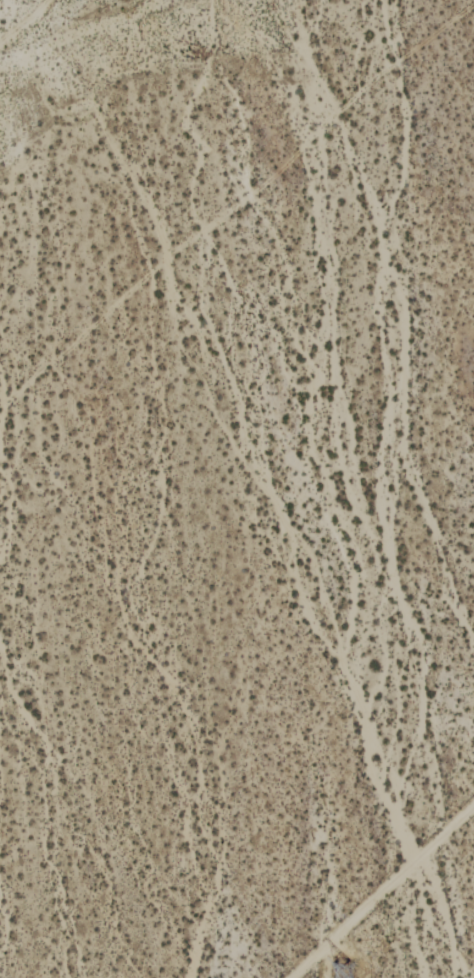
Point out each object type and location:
power tower: (347, 970)

